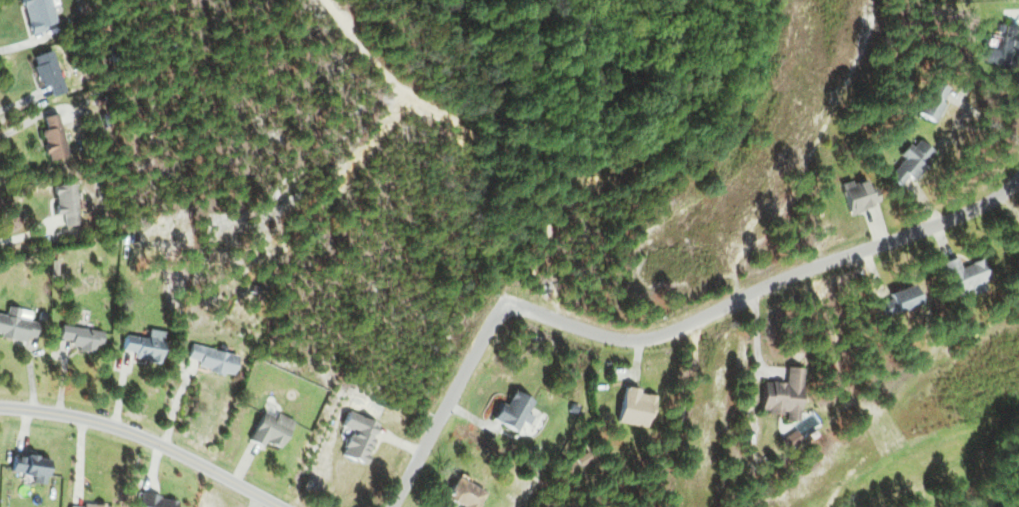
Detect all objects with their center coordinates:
building: (35, 15)
building: (1003, 47)
road: (382, 70)
building: (45, 72)
building: (930, 103)
building: (50, 138)
building: (909, 162)
building: (853, 196)
building: (63, 203)
building: (1018, 235)
park: (687, 250)
building: (965, 277)
road: (766, 286)
building: (896, 301)
building: (13, 324)
building: (78, 335)
building: (142, 345)
building: (210, 358)
building: (780, 394)
road: (449, 404)
building: (631, 406)
building: (511, 411)
building: (268, 429)
building: (355, 436)
road: (145, 439)
building: (27, 466)
building: (461, 493)
building: (153, 501)
building: (88, 505)

